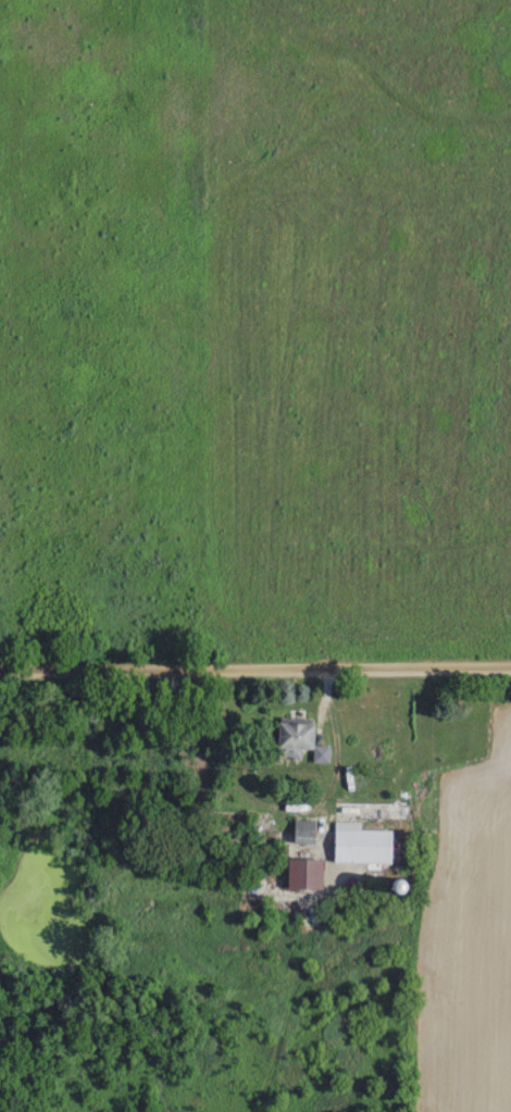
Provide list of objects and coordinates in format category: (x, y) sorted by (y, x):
road: (255, 666)
building: (292, 738)
building: (320, 753)
building: (375, 844)
building: (302, 874)

